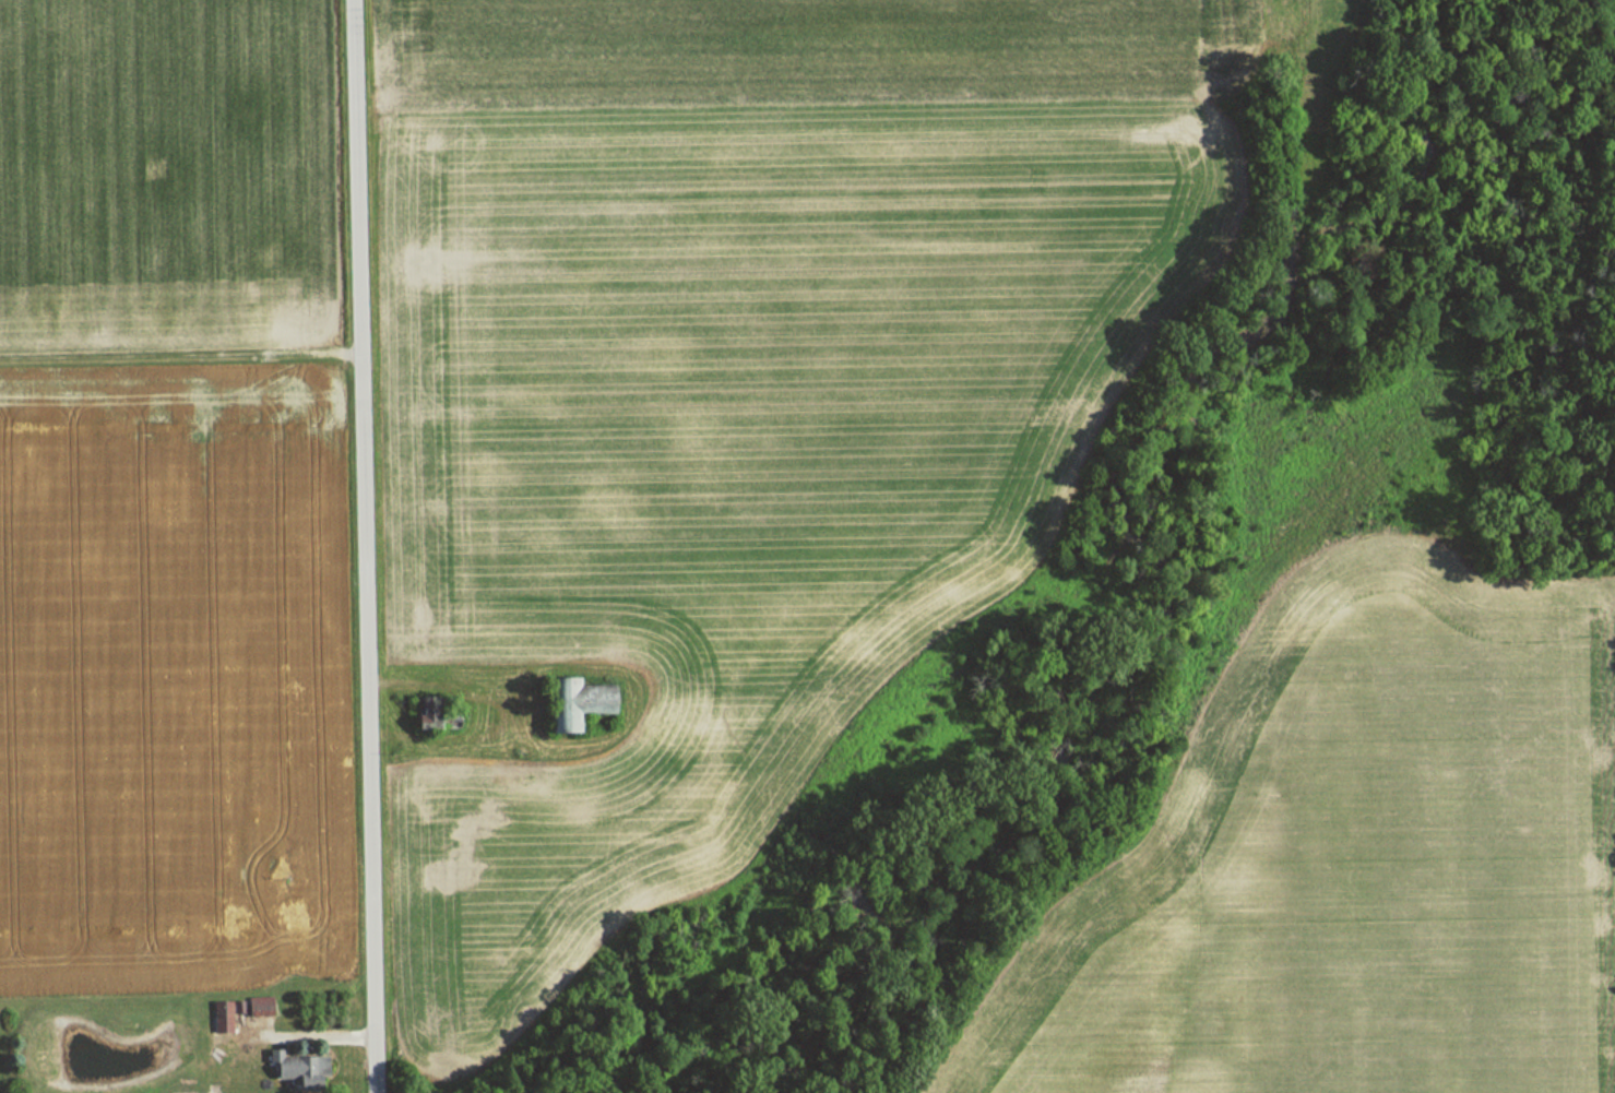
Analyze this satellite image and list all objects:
crop: (164, 185)
crop: (746, 397)
road: (364, 546)
crop: (167, 679)
building: (583, 702)
crop: (1350, 869)
building: (225, 1015)

